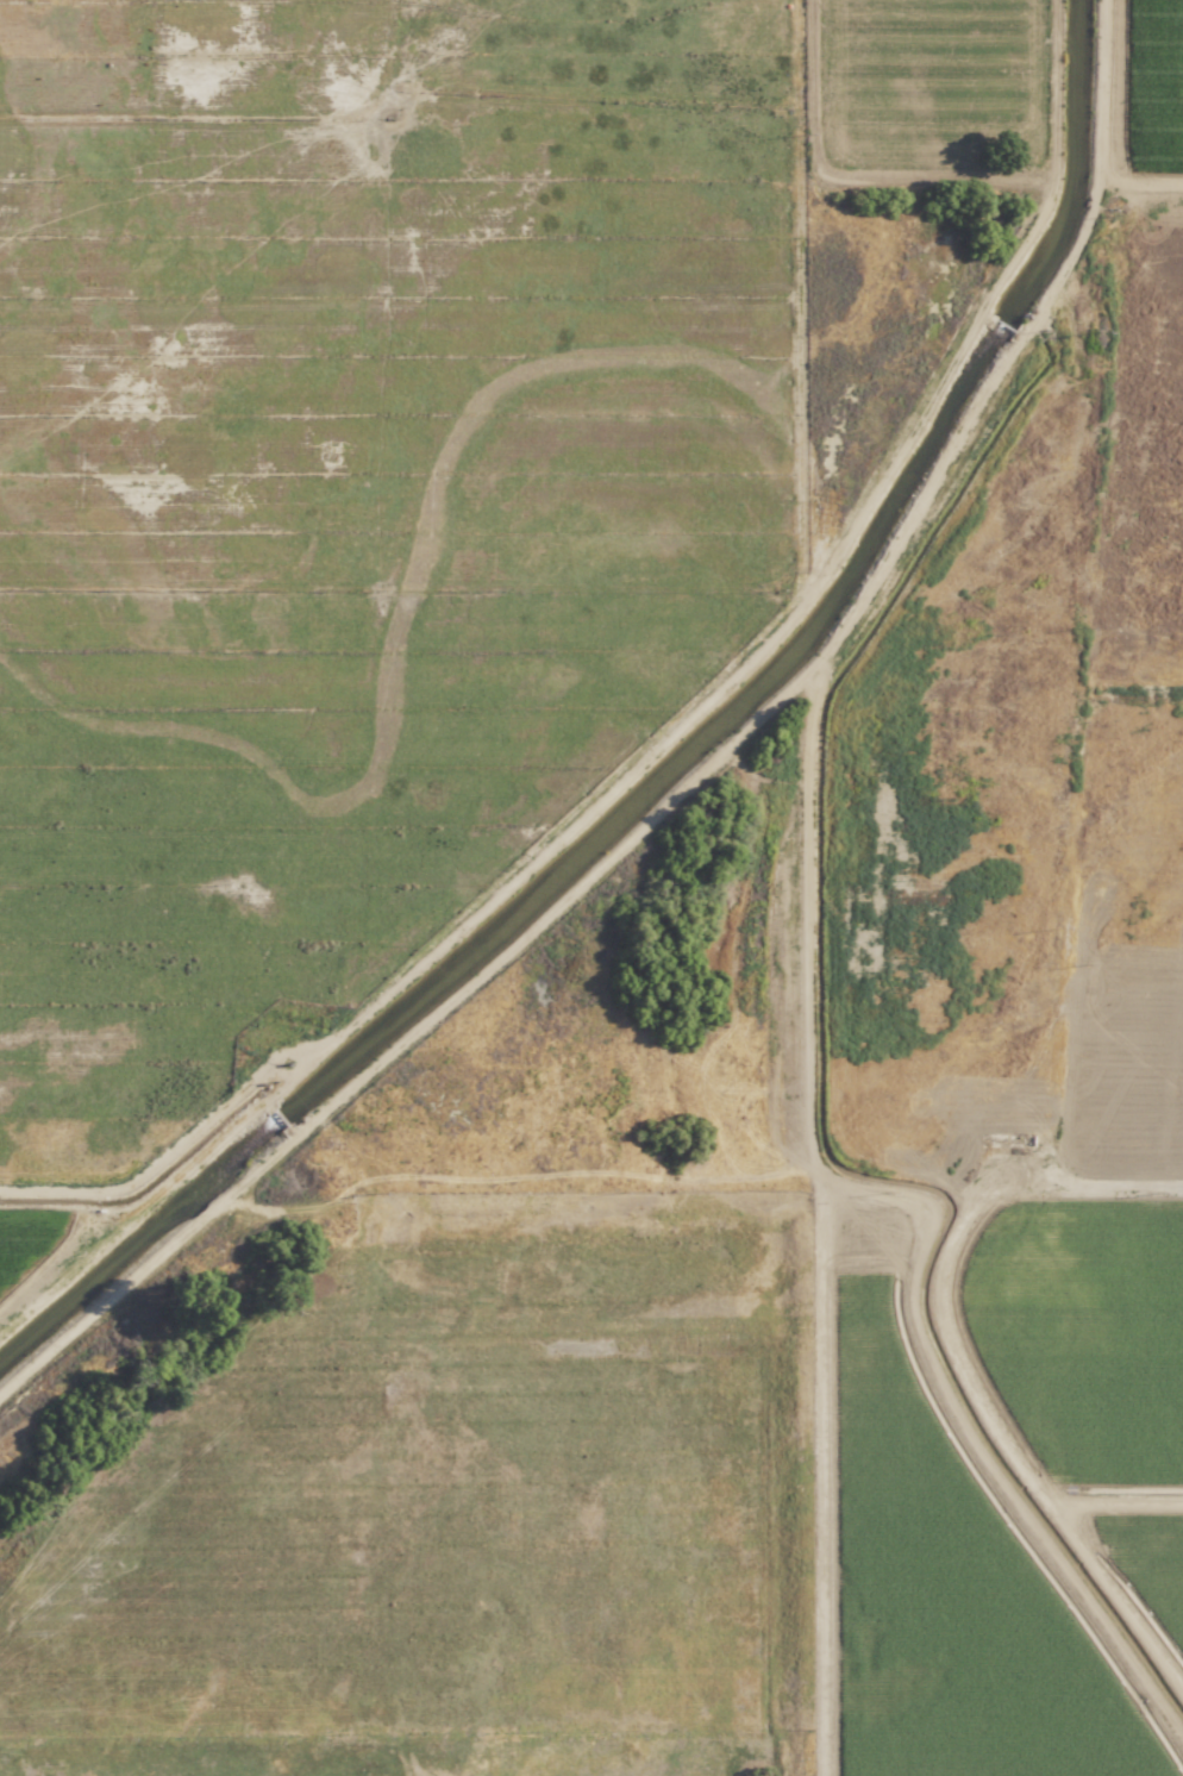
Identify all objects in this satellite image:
road: (946, 1318)

